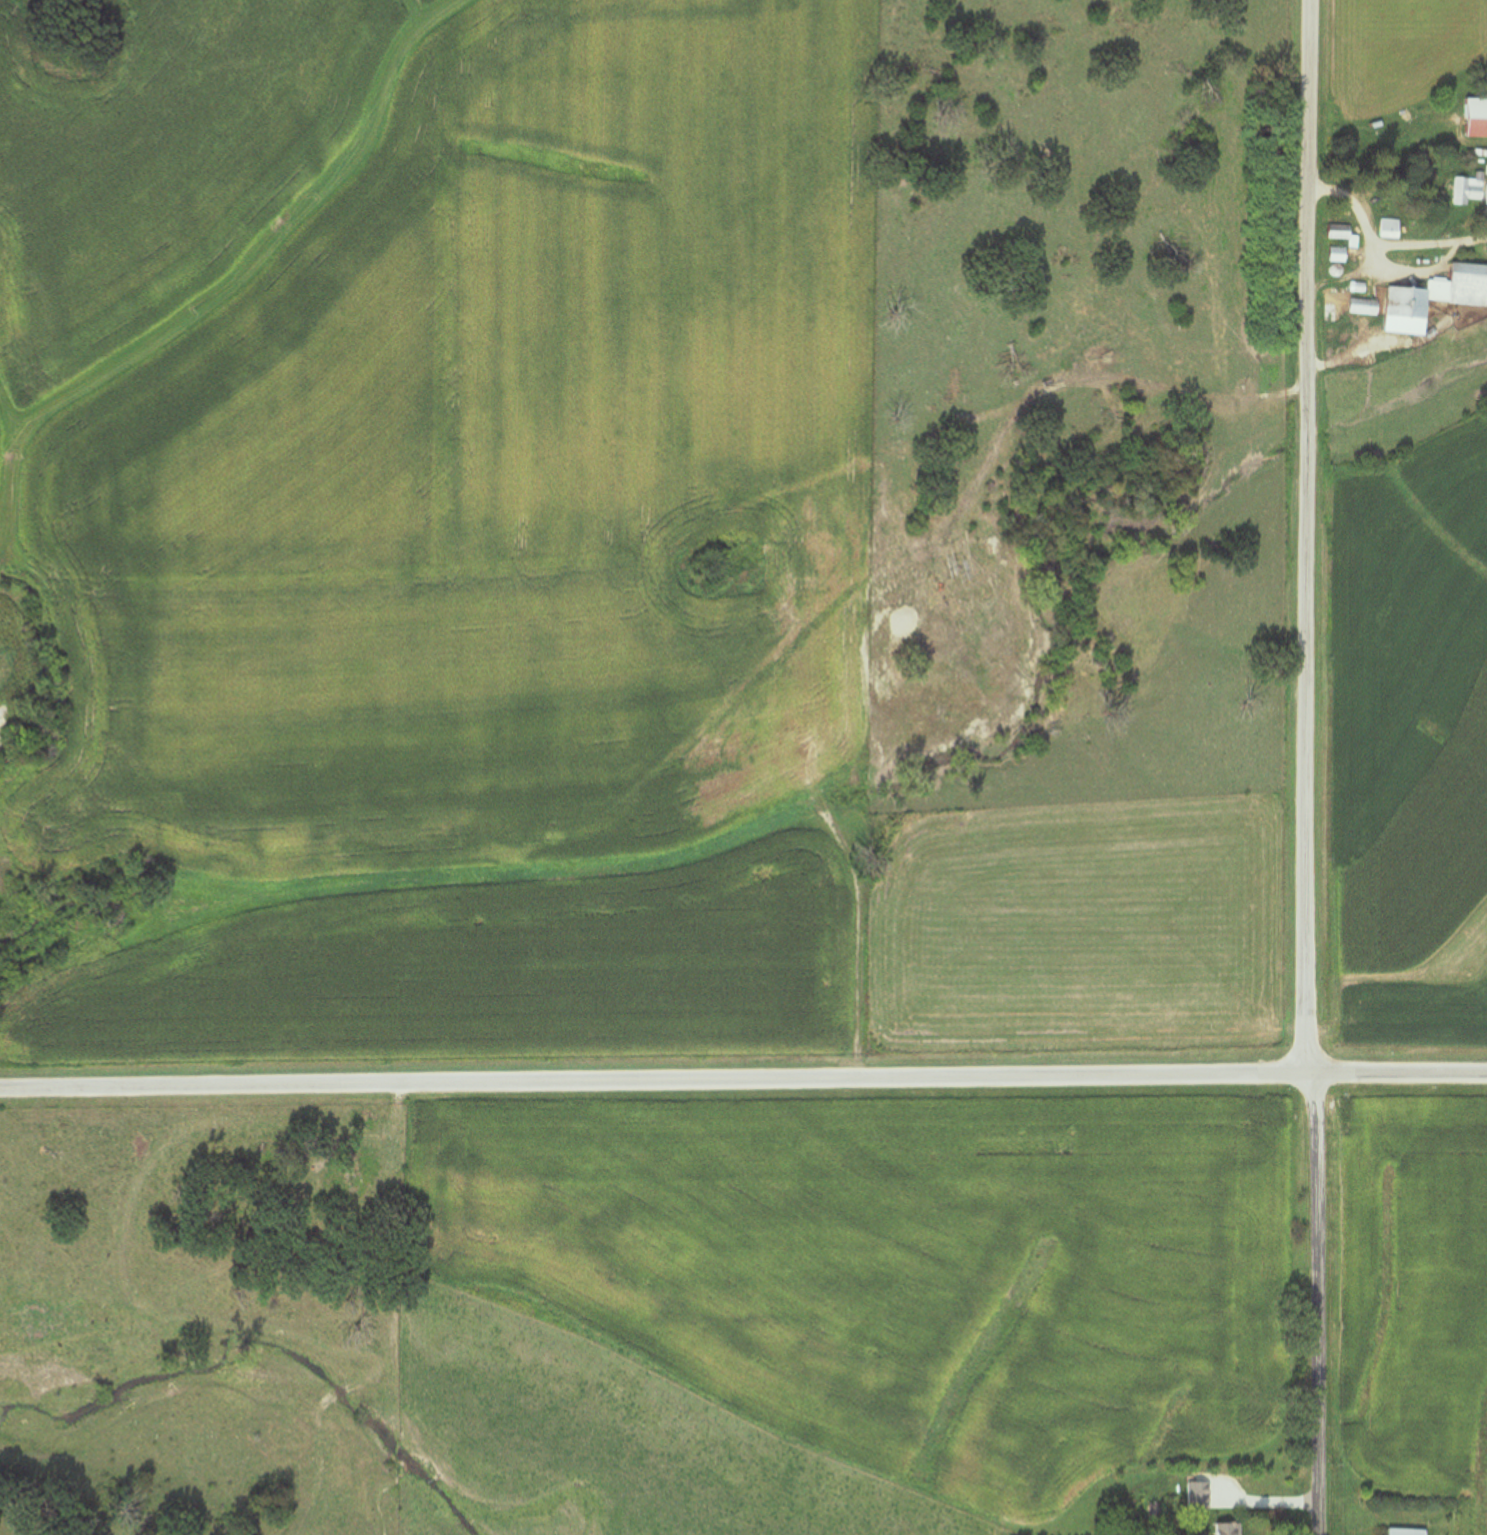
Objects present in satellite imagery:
building: (1478, 118)
building: (1471, 192)
building: (1392, 229)
building: (1342, 233)
building: (1341, 256)
building: (1436, 299)
building: (1367, 308)
mineshaft: (1056, 522)
road: (1303, 535)
mineshaft: (897, 656)
road: (856, 940)
road: (1394, 1072)
road: (650, 1078)
road: (1314, 1303)
building: (1231, 1529)
building: (1408, 1531)

